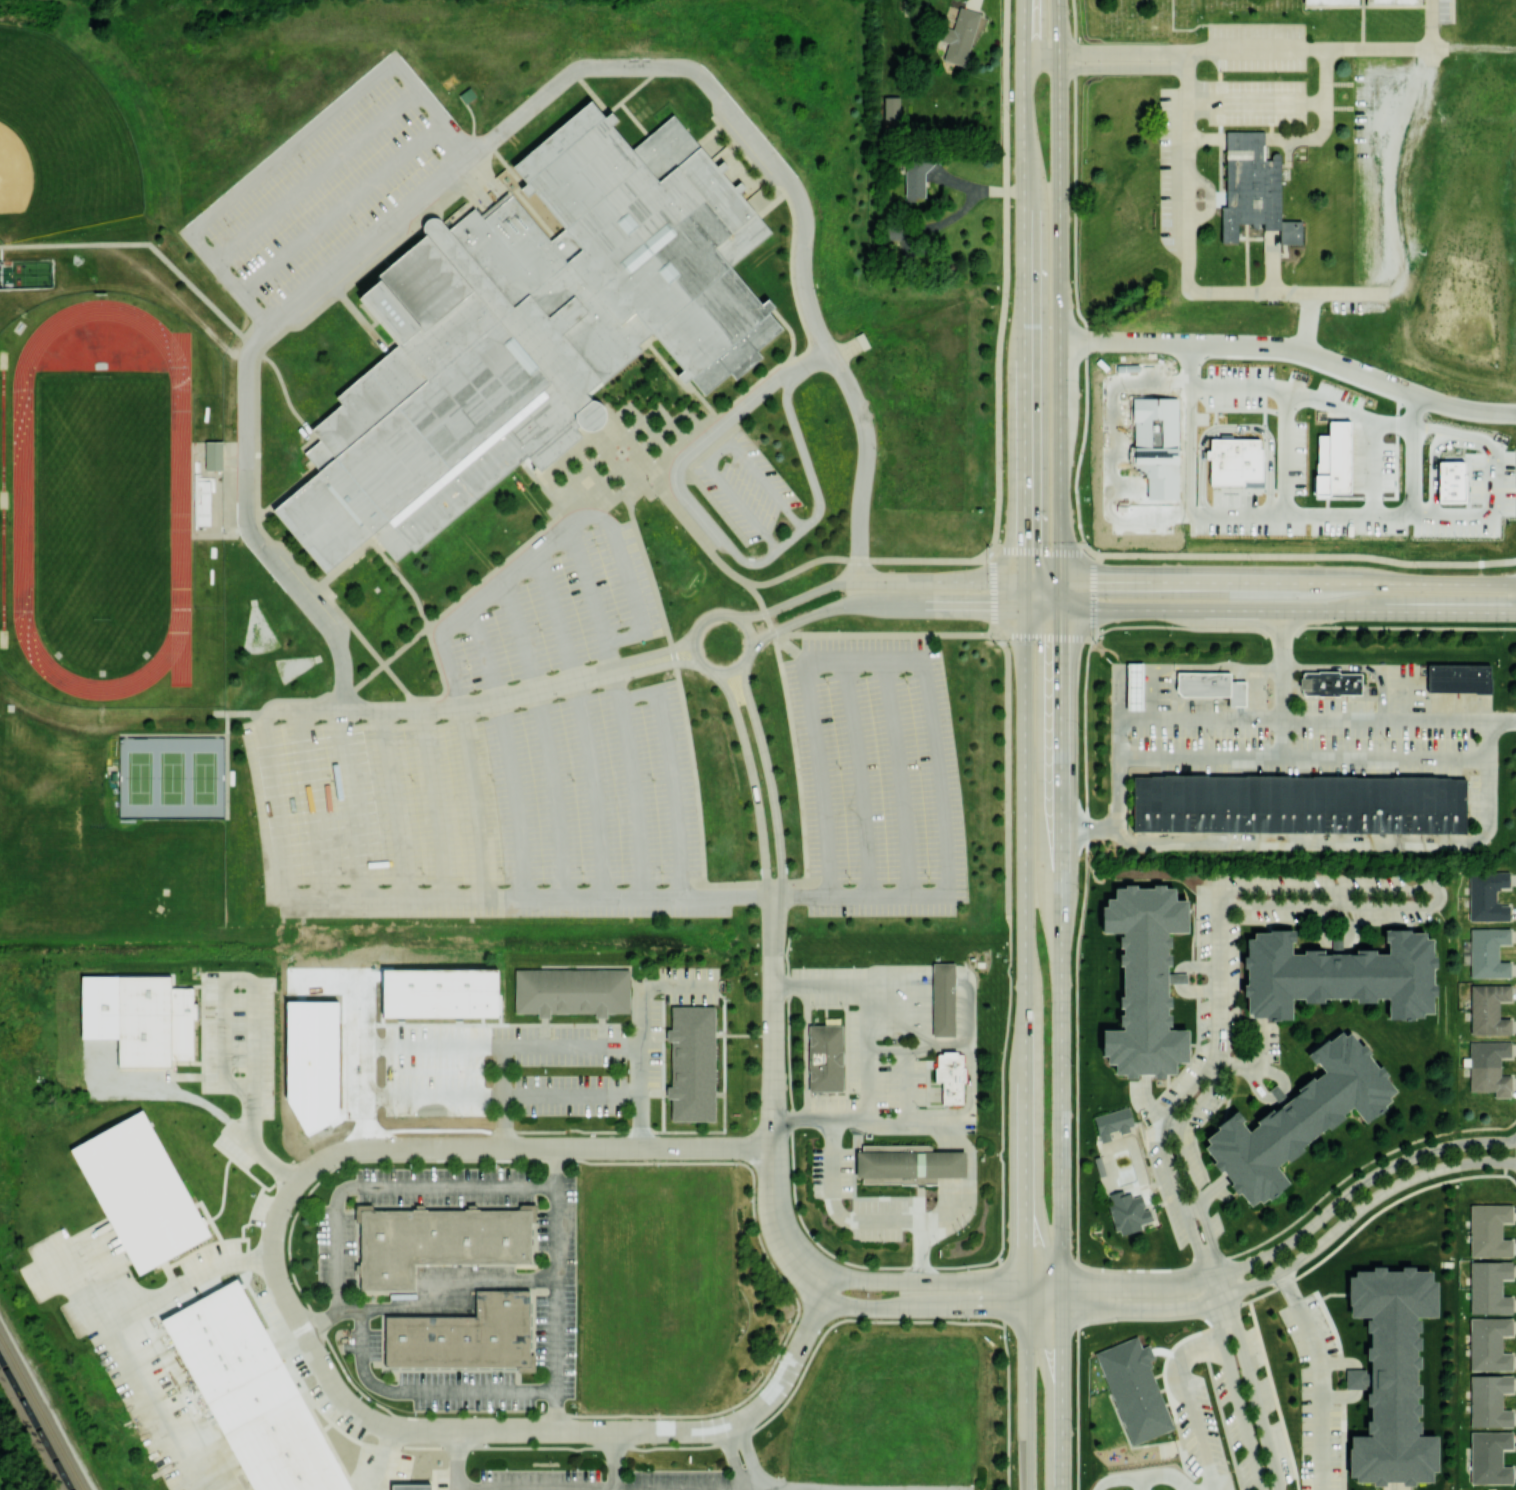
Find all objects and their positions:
building: (1331, 1)
building: (1394, 1)
road: (1362, 2)
road: (1367, 5)
parking lot: (1442, 11)
park: (1310, 17)
road: (1224, 22)
road: (1431, 24)
road: (1362, 26)
building: (960, 35)
parking lot: (1257, 46)
road: (1265, 47)
road: (1378, 47)
road: (1473, 48)
road: (1105, 51)
road: (1187, 60)
road: (1104, 68)
road: (1325, 74)
road: (1338, 83)
road: (715, 89)
road: (1256, 102)
building: (891, 107)
road: (1338, 107)
road: (1219, 122)
road: (1206, 137)
road: (1309, 137)
park: (59, 141)
parking lot: (1173, 154)
parking lot: (1381, 161)
road: (1073, 168)
road: (1400, 169)
road: (1187, 171)
road: (762, 175)
building: (915, 178)
road: (480, 183)
building: (1252, 184)
parking lot: (326, 190)
road: (1207, 198)
road: (1211, 198)
building: (437, 224)
building: (1293, 231)
road: (1272, 260)
road: (1187, 274)
road: (1005, 276)
road: (1022, 289)
road: (1229, 291)
road: (1330, 292)
road: (1401, 292)
road: (1058, 304)
parking lot: (1335, 304)
building: (537, 327)
building: (863, 341)
road: (1291, 349)
road: (808, 360)
road: (246, 400)
road: (1284, 405)
road: (1329, 407)
building: (599, 417)
road: (1235, 427)
road: (1460, 435)
road: (1074, 446)
building: (1161, 449)
road: (717, 451)
road: (1374, 451)
building: (215, 455)
road: (864, 461)
building: (1235, 461)
building: (1337, 462)
road: (1433, 470)
building: (1451, 481)
parking lot: (744, 486)
track: (3, 498)
park: (101, 501)
building: (203, 501)
track: (179, 505)
road: (1272, 516)
road: (1475, 516)
traffic signals: (1023, 536)
road: (552, 537)
road: (731, 548)
road: (1039, 552)
road: (1302, 555)
road: (862, 559)
road: (877, 579)
traffic signals: (1102, 580)
road: (1269, 581)
road: (586, 583)
road: (993, 593)
road: (1023, 594)
road: (883, 605)
traffic signals: (982, 609)
road: (1270, 609)
parking lot: (559, 613)
road: (1254, 627)
road: (846, 633)
traffic signals: (1059, 640)
road: (788, 645)
road: (672, 648)
road: (656, 652)
road: (609, 656)
road: (660, 664)
road: (1192, 668)
road: (1357, 668)
road: (732, 670)
building: (1459, 677)
road: (1282, 684)
building: (1333, 684)
building: (1205, 685)
gas station: (1135, 686)
building: (1139, 687)
road: (1260, 693)
road: (1407, 693)
building: (1240, 694)
road: (482, 695)
road: (1503, 719)
road: (583, 720)
road: (546, 734)
road: (508, 748)
road: (667, 759)
road: (1304, 759)
road: (796, 764)
road: (902, 775)
road: (938, 775)
road: (1007, 775)
park: (172, 776)
park: (710, 776)
road: (861, 776)
park: (26, 777)
road: (819, 777)
road: (752, 778)
parking lot: (877, 778)
road: (769, 779)
road: (635, 795)
road: (475, 799)
road: (437, 801)
road: (394, 802)
building: (1299, 803)
parking lot: (485, 813)
road: (1089, 829)
road: (1485, 834)
park: (98, 875)
road: (1433, 887)
building: (1487, 895)
road: (800, 896)
road: (394, 898)
road: (1348, 944)
building: (1488, 952)
road: (1024, 959)
road: (1059, 959)
building: (1338, 974)
building: (1177, 978)
building: (1144, 980)
road: (1180, 980)
road: (862, 984)
road: (1219, 990)
building: (574, 993)
building: (444, 996)
building: (943, 998)
building: (1488, 1008)
road: (252, 1011)
building: (143, 1021)
road: (773, 1022)
road: (638, 1033)
road: (921, 1034)
road: (519, 1042)
road: (941, 1044)
road: (384, 1045)
building: (825, 1057)
building: (695, 1066)
building: (1487, 1066)
road: (1256, 1068)
building: (950, 1075)
road: (907, 1086)
road: (569, 1094)
road: (867, 1098)
road: (1276, 1098)
road: (1148, 1100)
building: (1299, 1117)
road: (1002, 1120)
road: (926, 1121)
building: (1116, 1125)
road: (1172, 1128)
road: (503, 1148)
road: (557, 1166)
road: (953, 1166)
road: (1164, 1166)
building: (913, 1167)
building: (1102, 1168)
road: (1185, 1169)
road: (389, 1185)
road: (1212, 1191)
building: (142, 1193)
road: (1362, 1206)
road: (831, 1209)
road: (1191, 1211)
building: (1129, 1212)
road: (789, 1218)
road: (924, 1220)
building: (1489, 1229)
road: (772, 1232)
road: (1297, 1236)
building: (437, 1239)
road: (181, 1280)
road: (947, 1283)
building: (1488, 1286)
road: (556, 1287)
road: (1219, 1298)
road: (428, 1302)
road: (922, 1309)
road: (1118, 1310)
road: (848, 1318)
building: (463, 1333)
building: (1488, 1342)
road: (1200, 1349)
road: (1339, 1362)
road: (118, 1363)
building: (1392, 1375)
road: (1319, 1376)
building: (1357, 1378)
road: (1356, 1379)
road: (1249, 1382)
road: (1234, 1384)
building: (1134, 1388)
road: (423, 1391)
building: (252, 1393)
road: (1340, 1396)
road: (1061, 1399)
road: (1025, 1400)
building: (1489, 1400)
road: (1008, 1404)
railway: (43, 1408)
road: (555, 1411)
railway: (35, 1425)
road: (1196, 1425)
road: (533, 1432)
road: (750, 1455)
building: (1489, 1456)
road: (379, 1459)
road: (733, 1459)
road: (454, 1460)
road: (614, 1460)
road: (1144, 1476)
road: (1142, 1483)
road: (1393, 1485)
building: (412, 1487)
road: (473, 1488)
road: (583, 1488)
road: (492, 1489)
road: (608, 1489)

